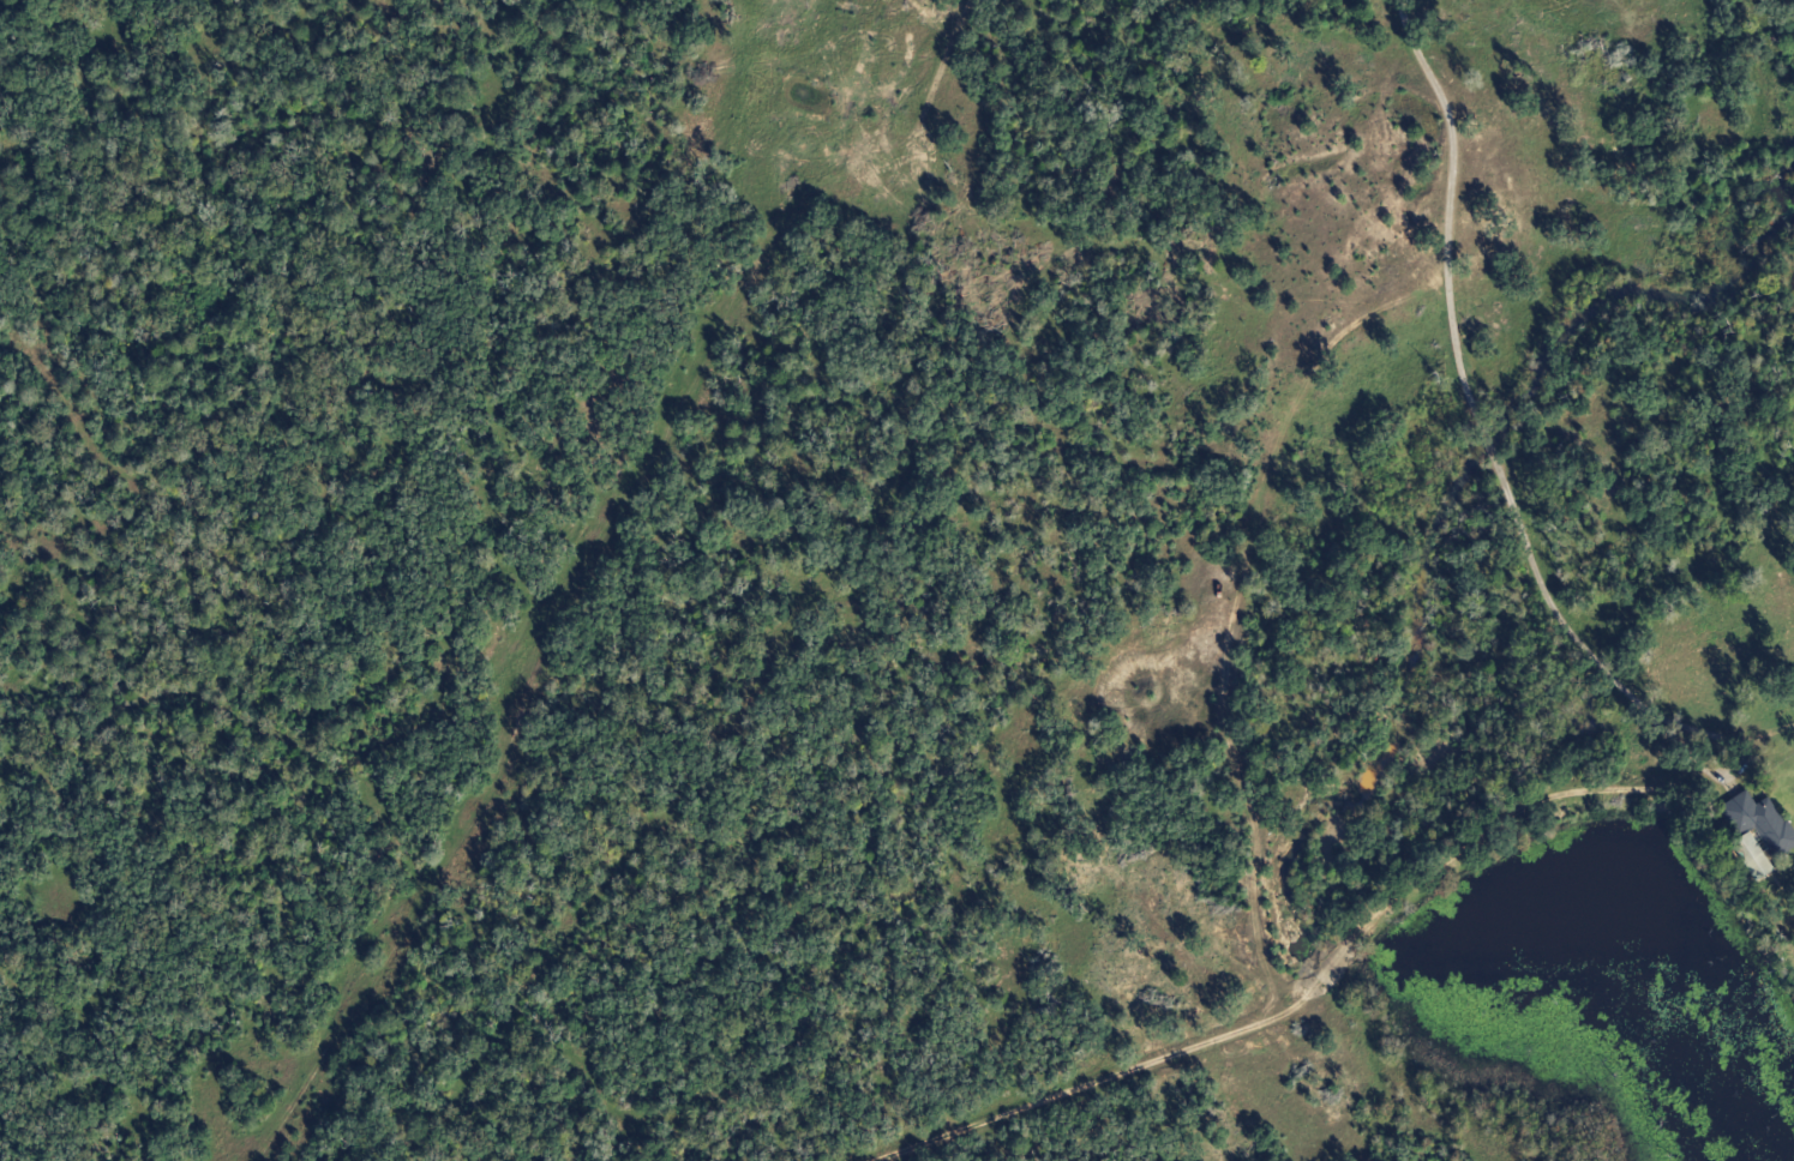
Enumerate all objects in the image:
building: (1756, 819)

